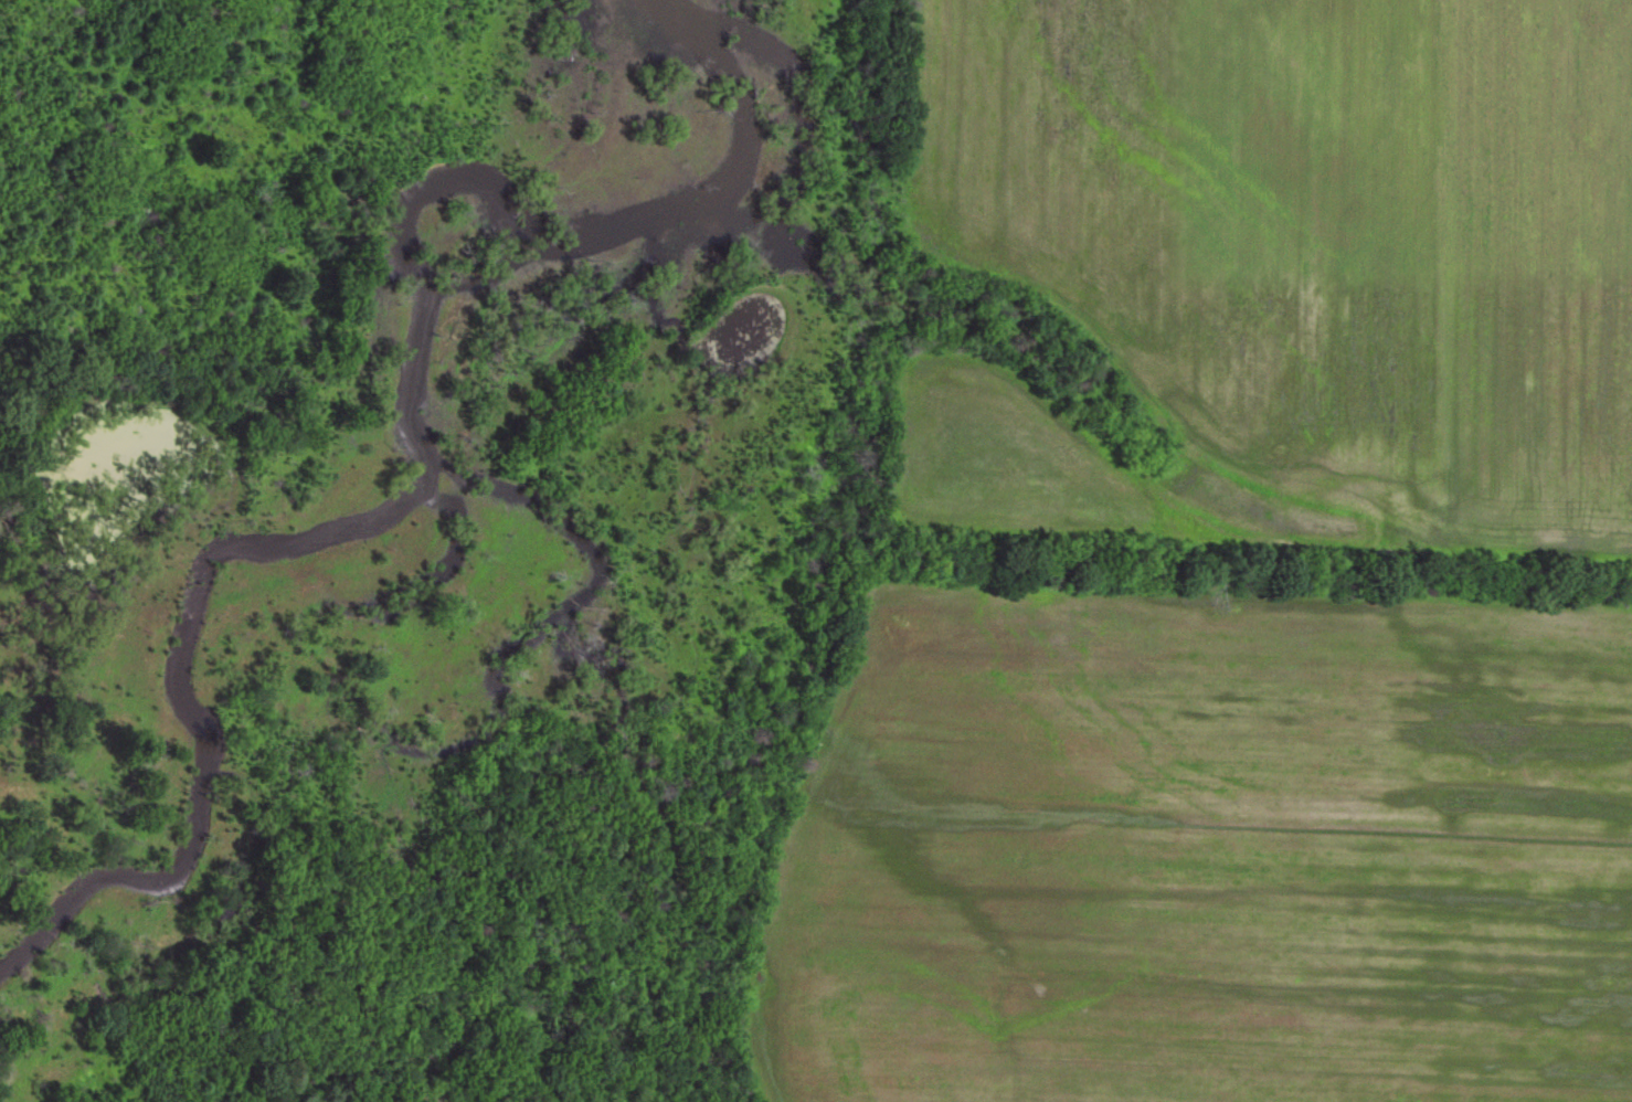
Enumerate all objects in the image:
road: (51, 1059)

